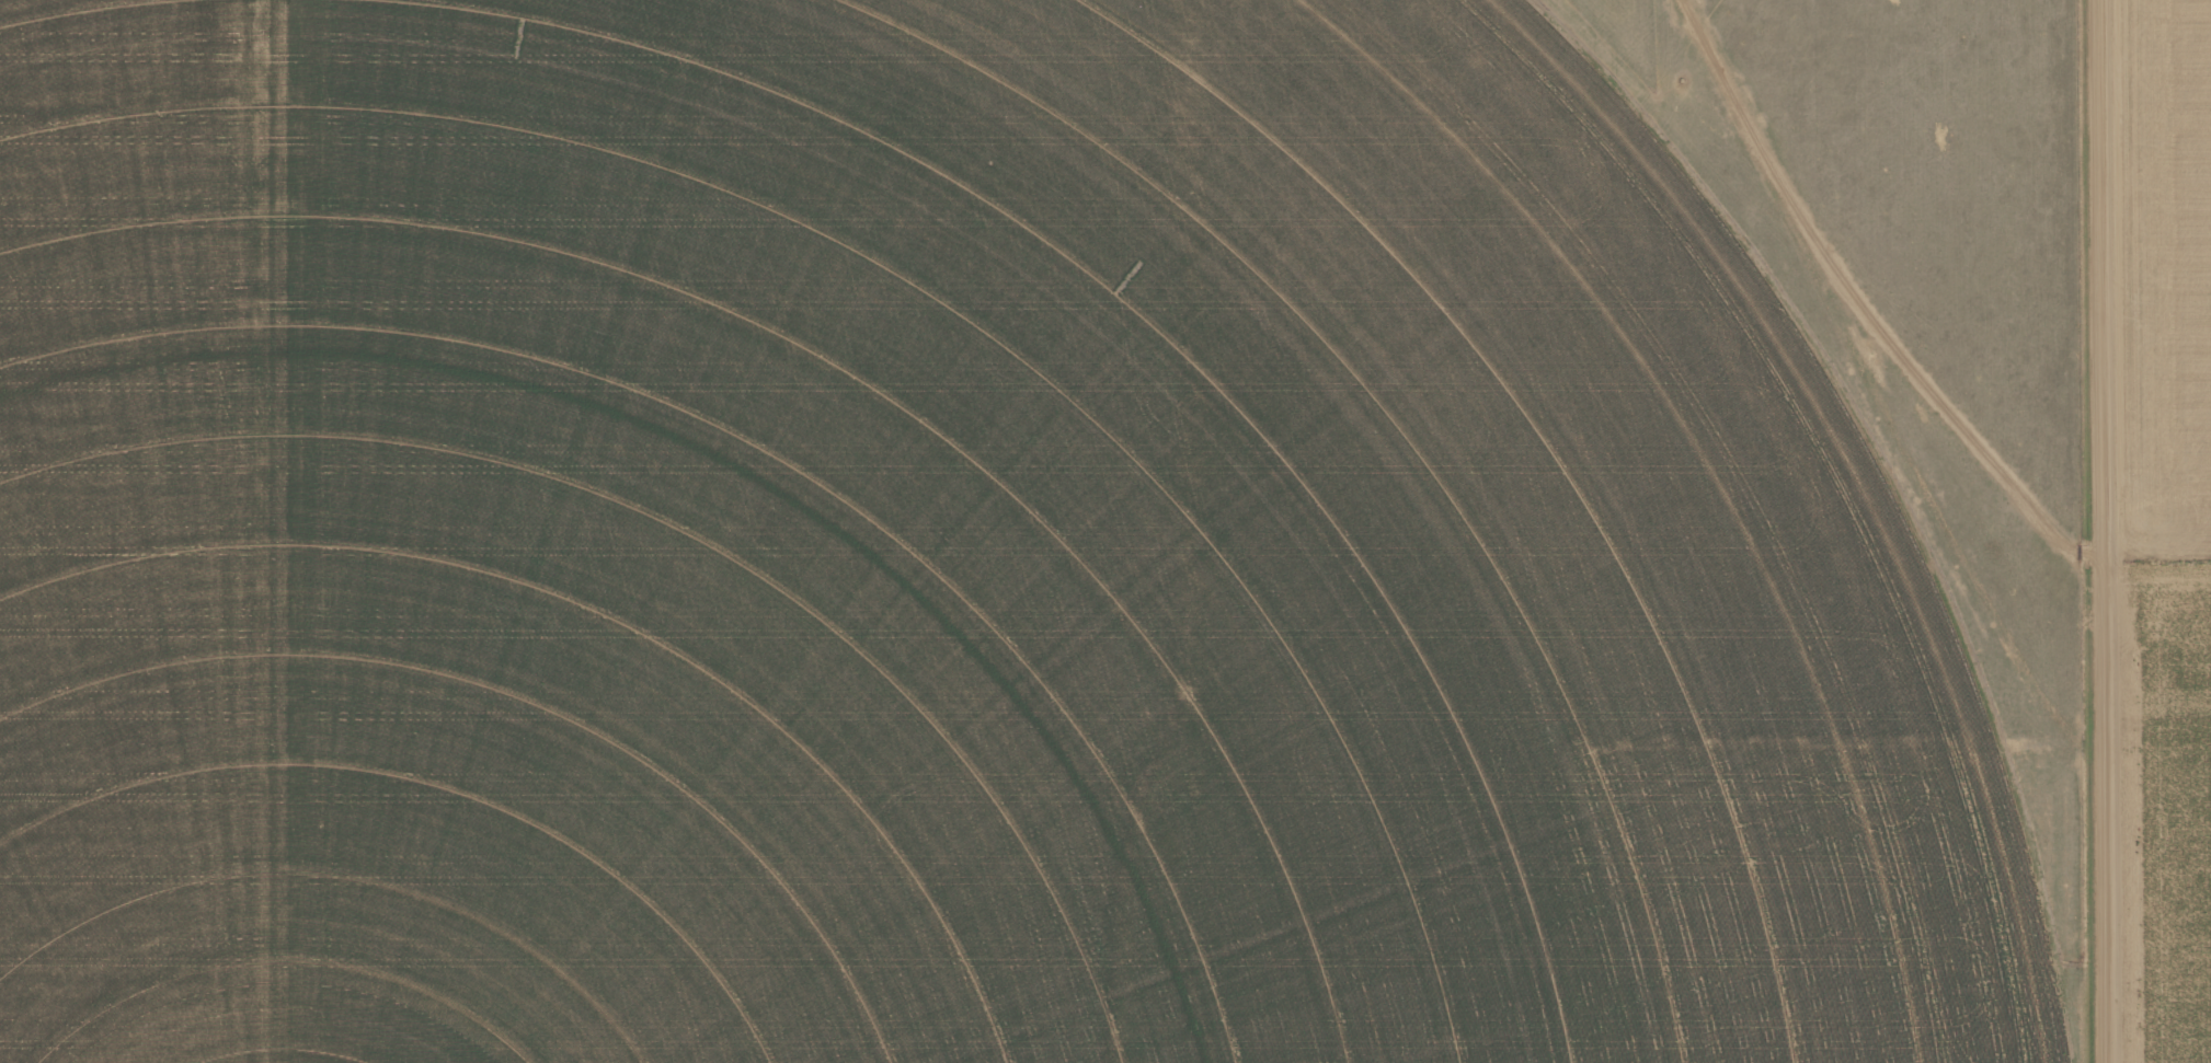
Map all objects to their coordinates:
road: (2099, 531)

